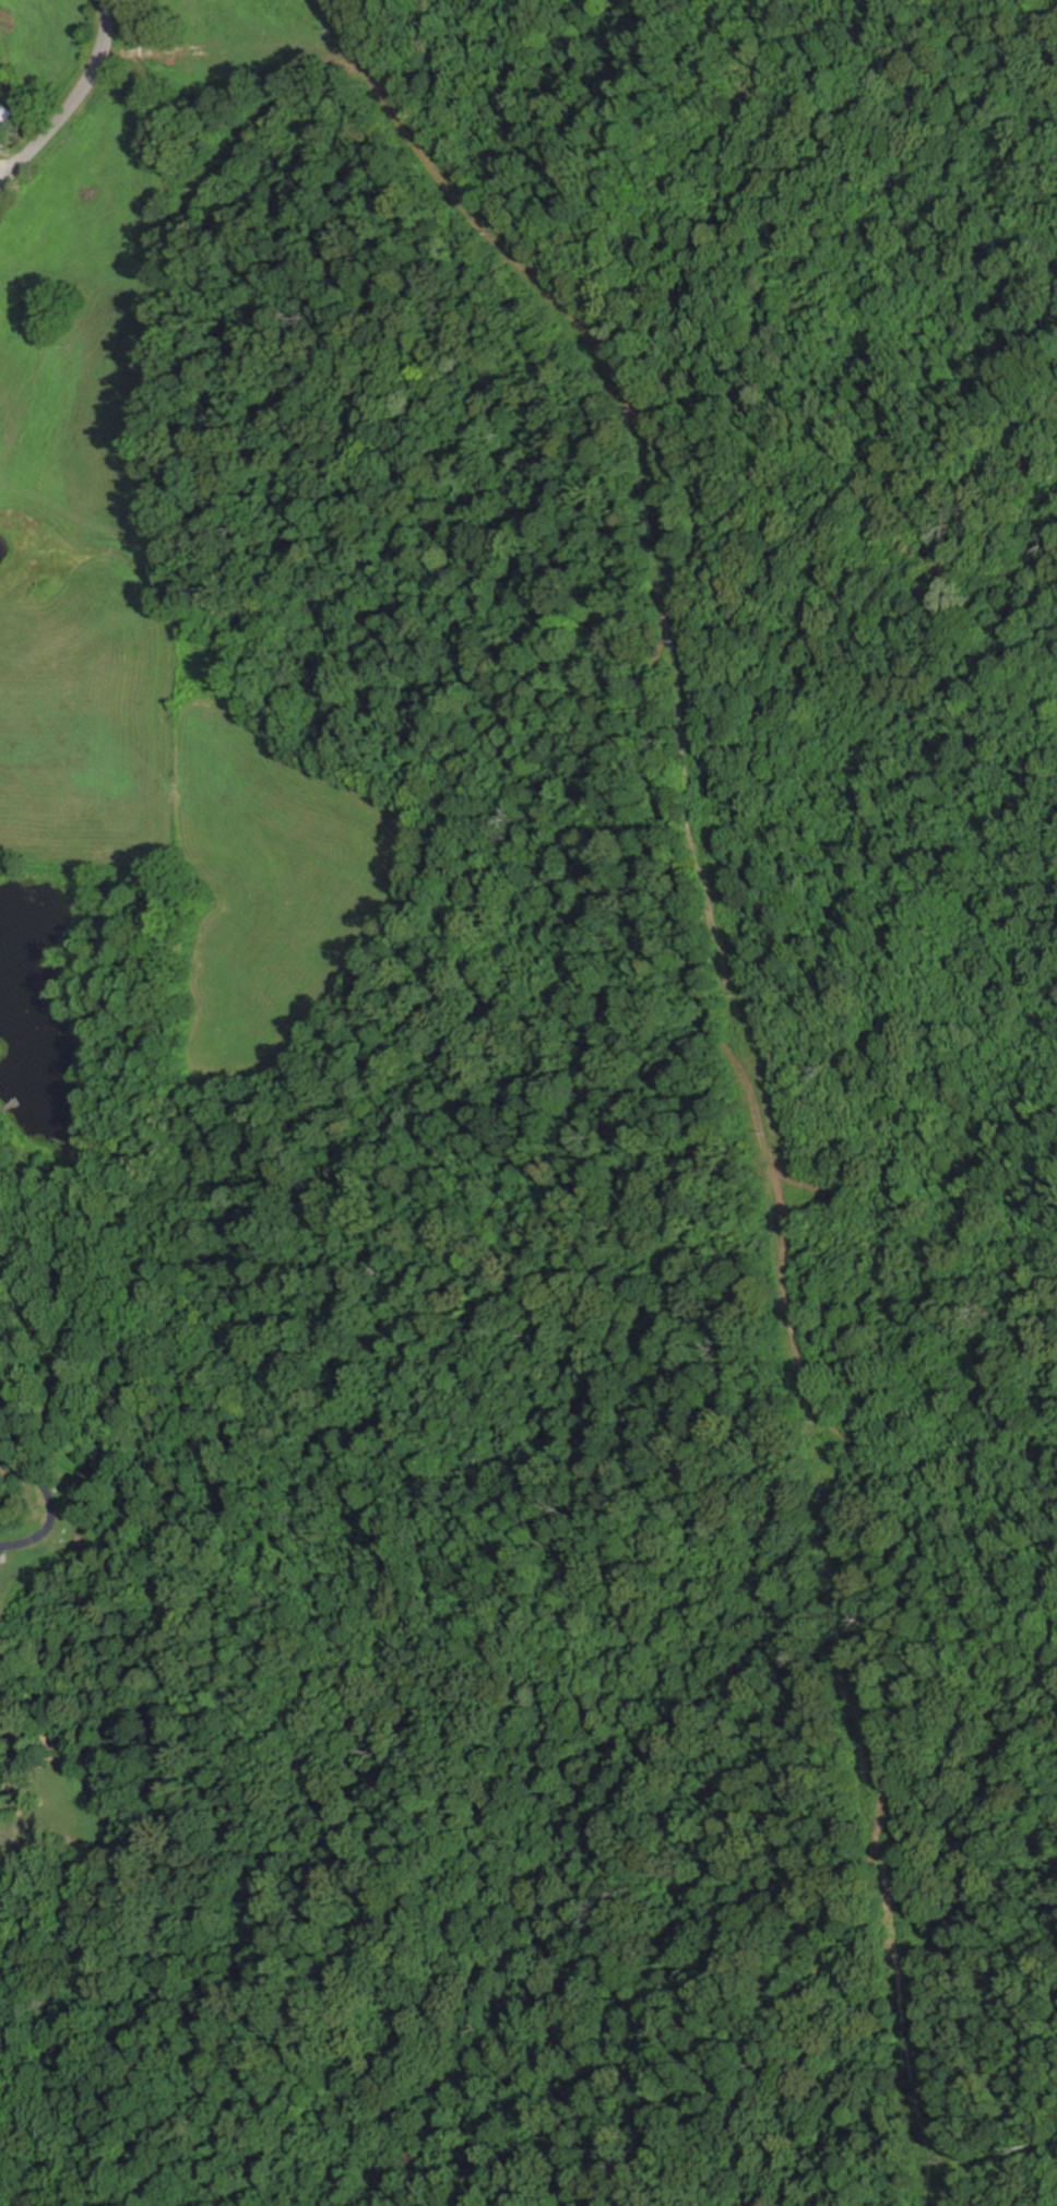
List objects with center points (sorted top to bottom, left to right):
road: (60, 76)
building: (4, 119)

